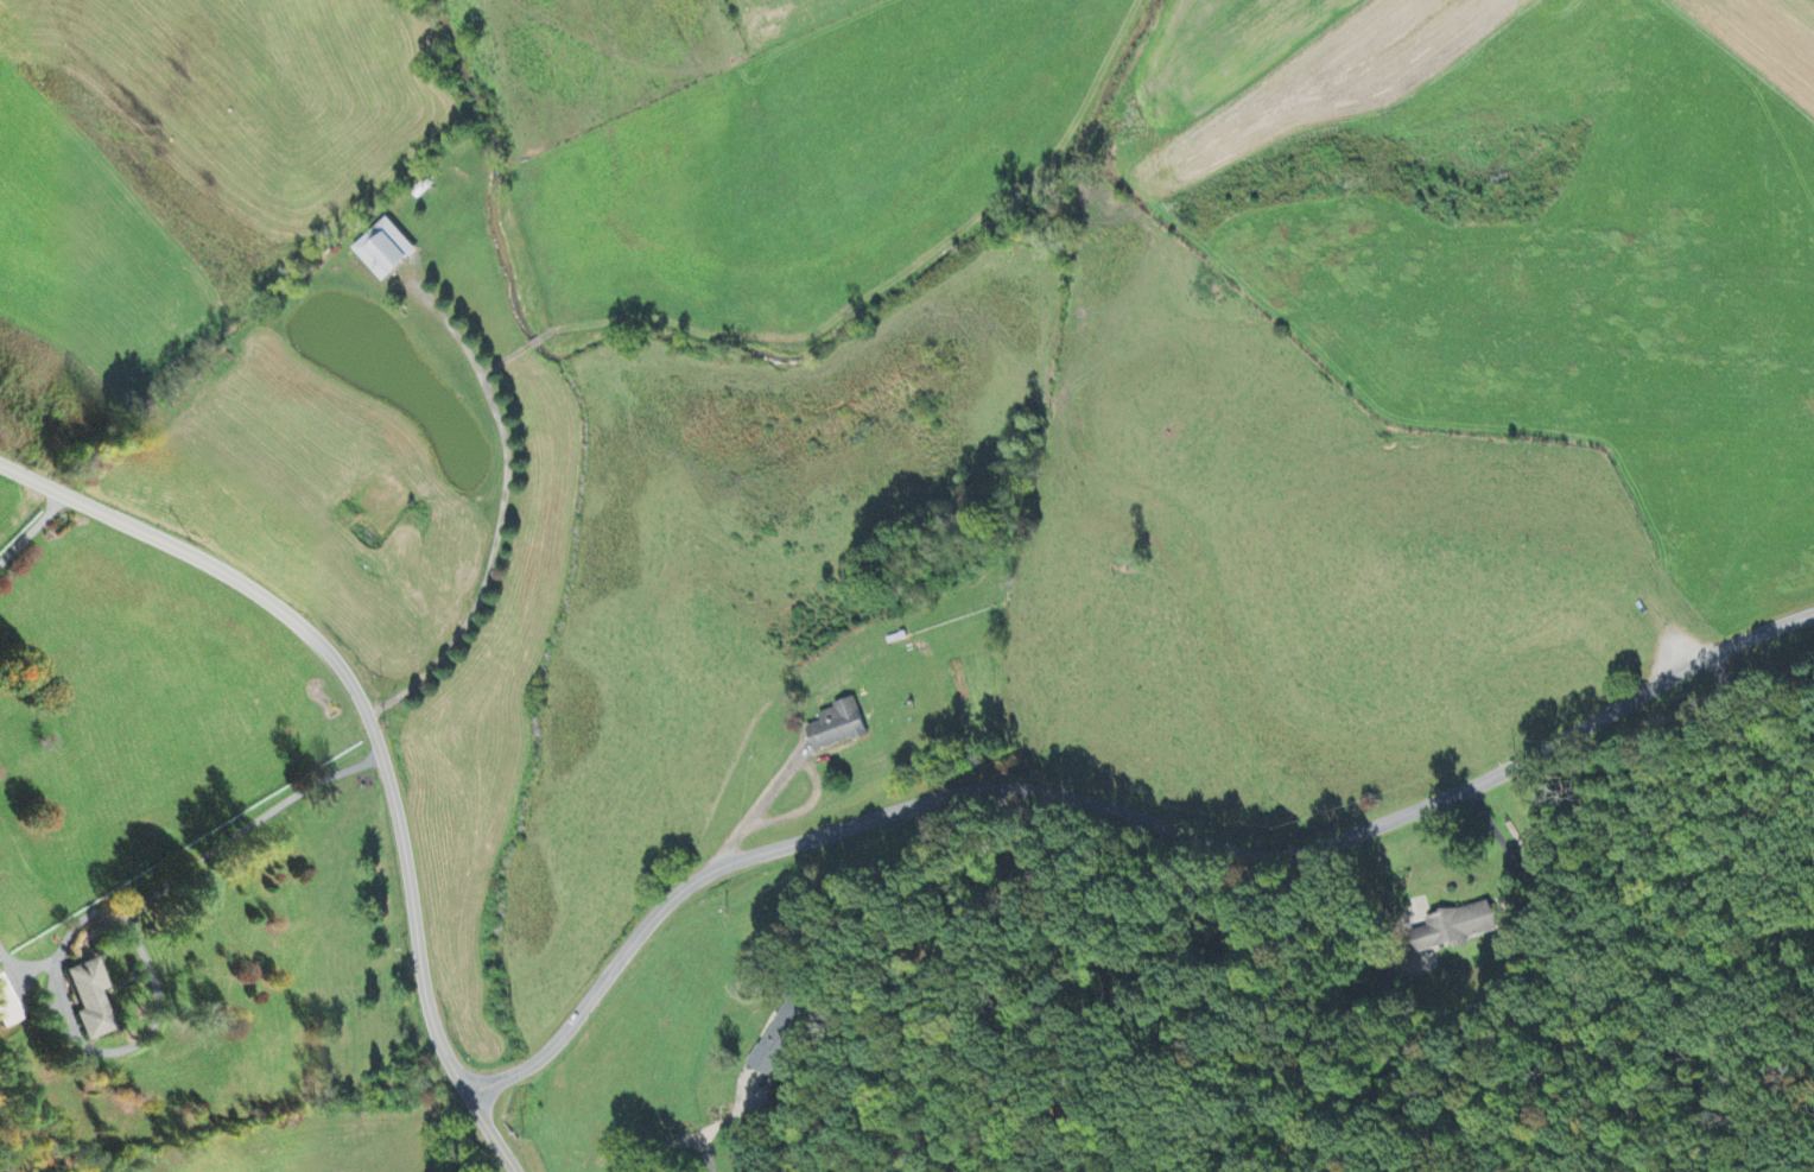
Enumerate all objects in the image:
building: (386, 252)
road: (373, 728)
building: (838, 728)
road: (755, 806)
road: (1116, 817)
road: (1499, 840)
building: (1459, 929)
building: (91, 1001)
building: (7, 1009)
building: (781, 1041)
road: (671, 1140)

